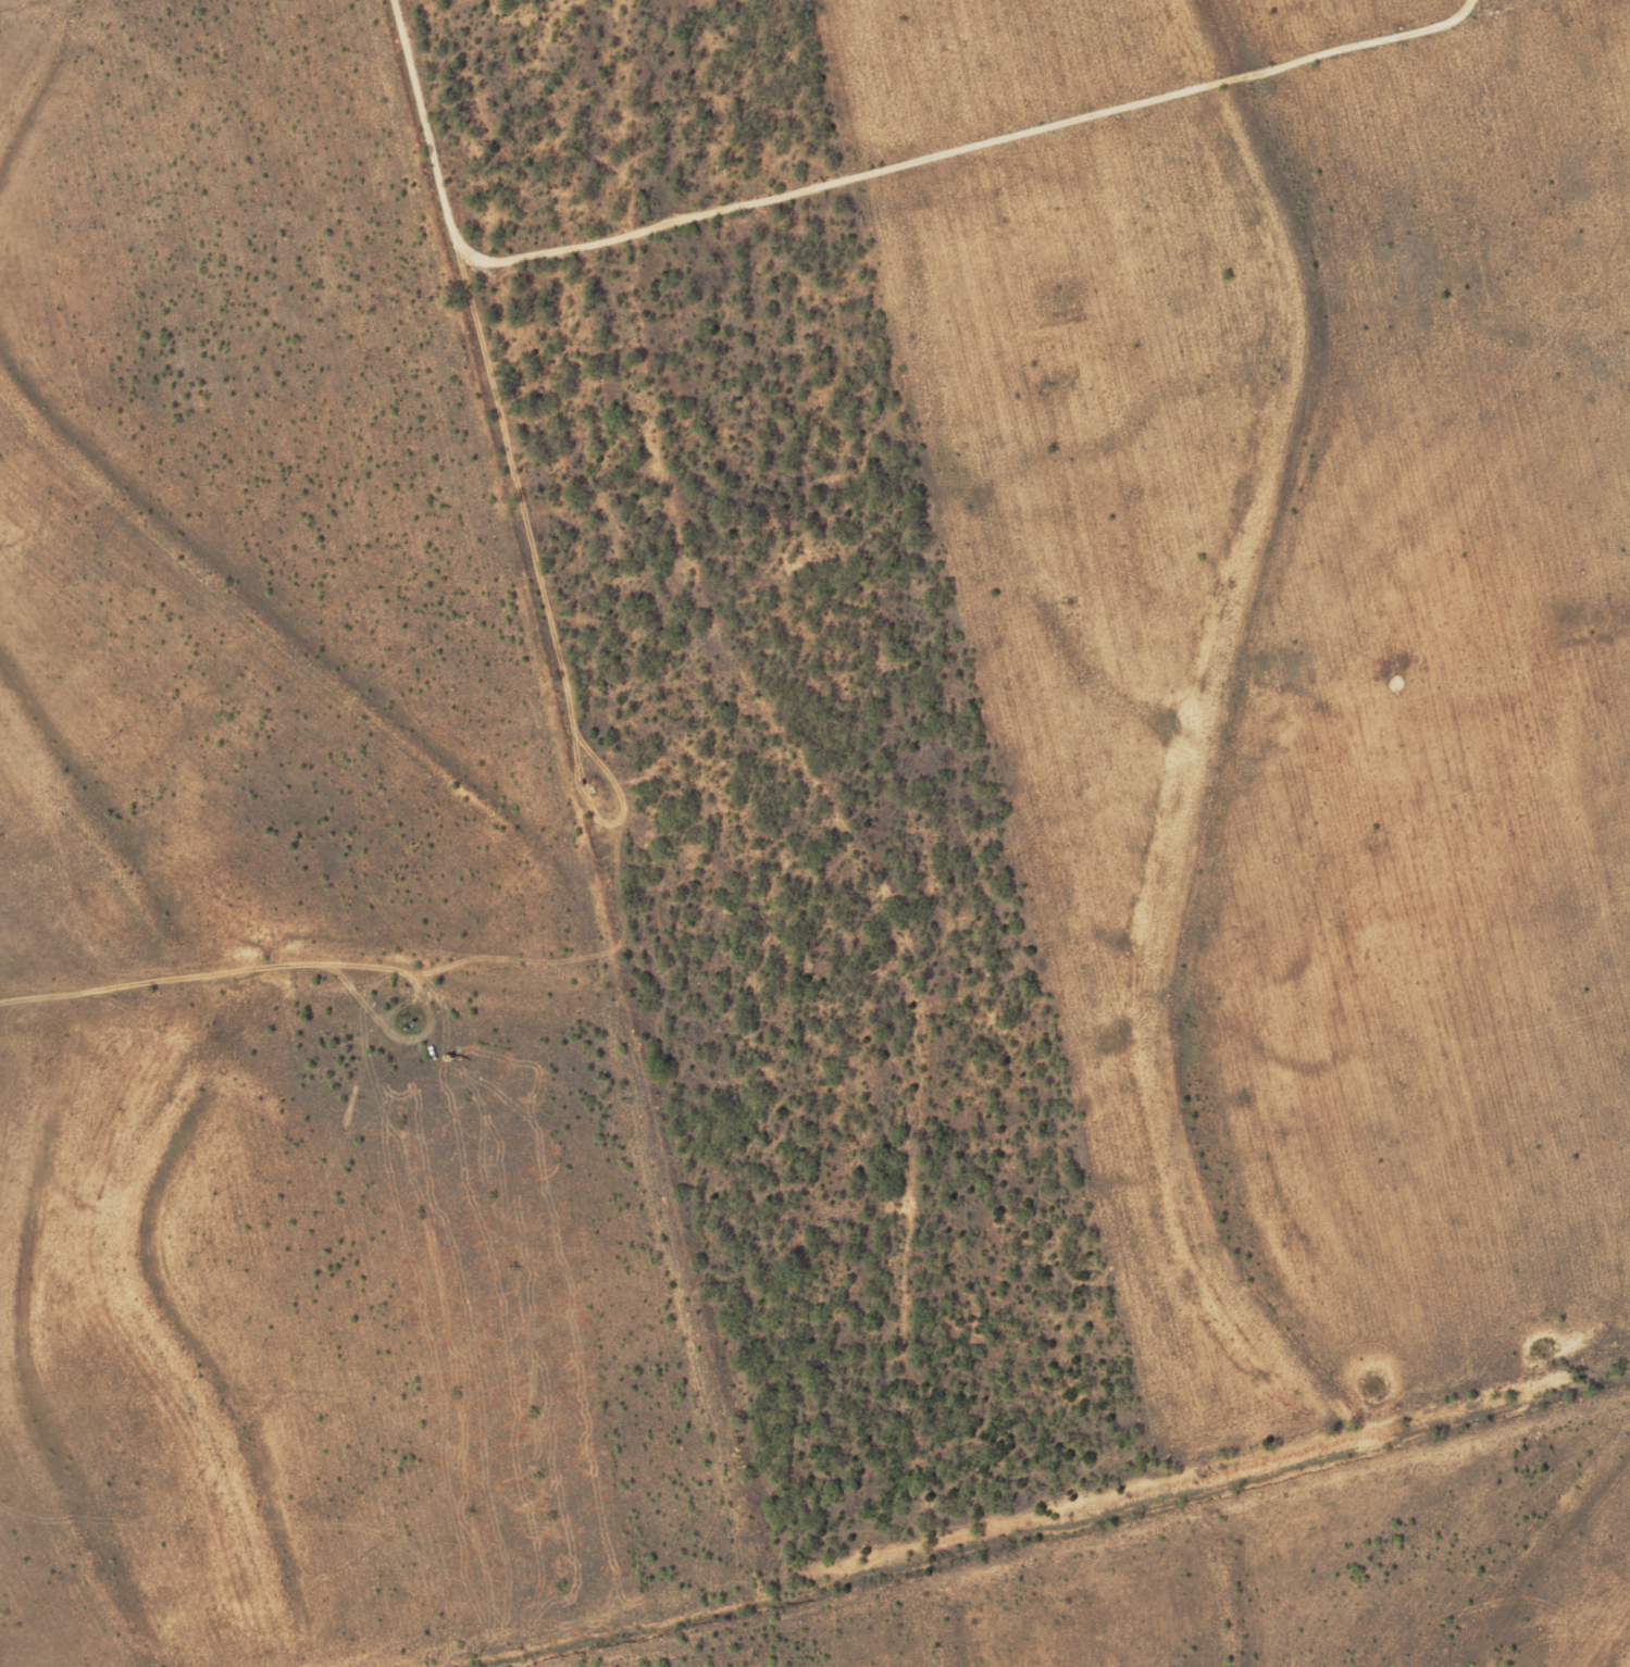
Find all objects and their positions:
road: (1333, 1162)

